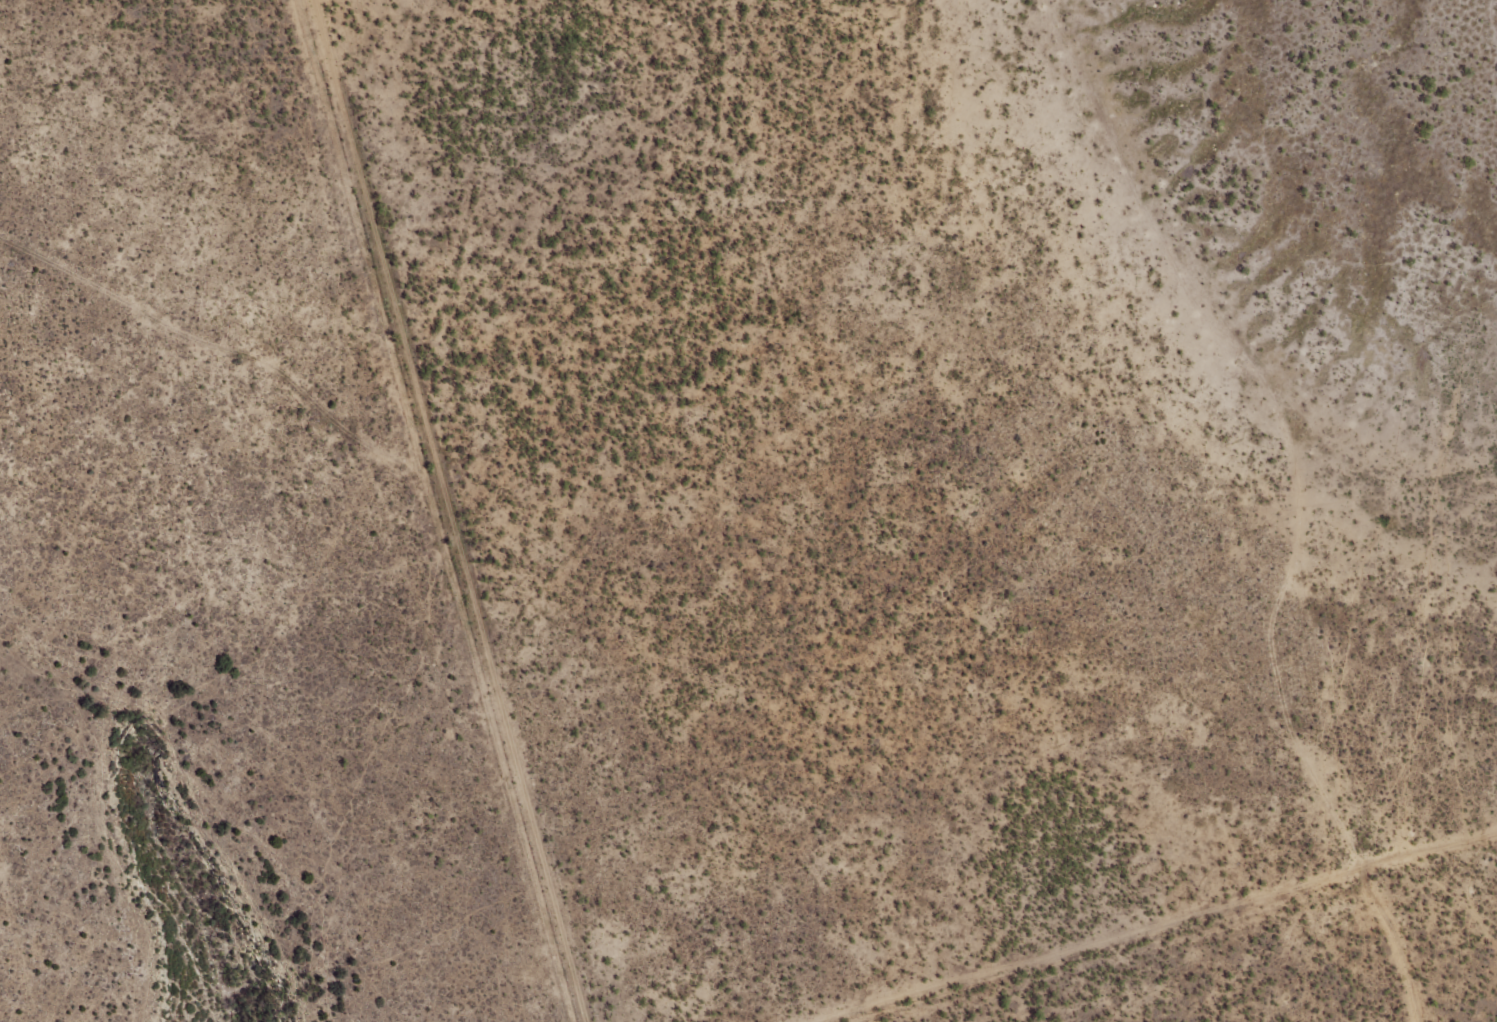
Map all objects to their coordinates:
road: (195, 281)
road: (437, 511)
road: (1211, 909)

